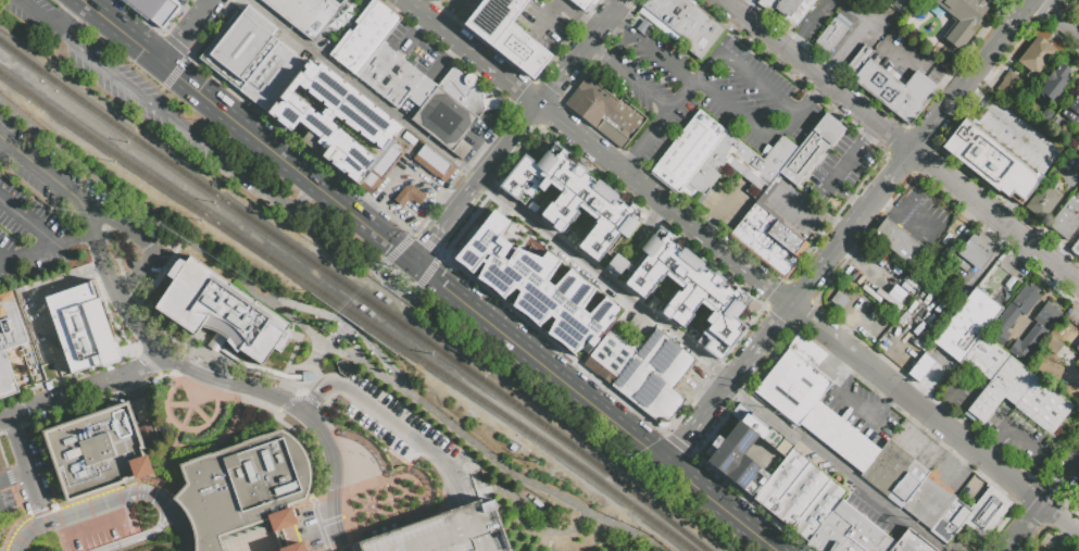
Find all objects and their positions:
building: (436, 0)
parking lot: (756, 0)
building: (1077, 0)
building: (768, 3)
building: (584, 4)
building: (902, 4)
road: (456, 5)
building: (660, 7)
road: (746, 8)
building: (782, 8)
parking lot: (462, 9)
building: (156, 10)
building: (796, 12)
road: (65, 14)
building: (306, 14)
road: (582, 14)
road: (1016, 14)
building: (680, 15)
road: (1057, 16)
road: (551, 17)
parking lot: (816, 18)
building: (961, 18)
road: (446, 20)
road: (819, 20)
parking lot: (551, 23)
building: (641, 25)
parking lot: (862, 28)
road: (187, 30)
building: (505, 33)
road: (597, 34)
building: (700, 34)
building: (364, 35)
building: (830, 36)
road: (855, 42)
building: (238, 46)
road: (620, 47)
road: (799, 48)
road: (651, 49)
road: (473, 53)
building: (1034, 57)
building: (861, 58)
parking lot: (909, 59)
road: (413, 62)
road: (912, 65)
road: (746, 74)
building: (271, 75)
road: (629, 76)
building: (396, 79)
road: (824, 83)
road: (949, 83)
building: (1008, 85)
building: (1052, 85)
road: (555, 87)
road: (958, 89)
road: (365, 90)
building: (466, 90)
parking lot: (700, 90)
building: (894, 90)
parking lot: (140, 96)
building: (595, 96)
road: (147, 101)
road: (969, 109)
building: (585, 110)
building: (1072, 110)
road: (804, 111)
road: (746, 117)
building: (444, 120)
building: (620, 123)
road: (657, 124)
building: (372, 125)
road: (247, 132)
parking lot: (1018, 137)
road: (900, 141)
building: (1078, 143)
road: (1016, 146)
building: (687, 151)
building: (812, 151)
building: (977, 151)
building: (741, 162)
building: (434, 163)
road: (495, 164)
road: (406, 168)
road: (843, 168)
road: (41, 171)
road: (893, 171)
parking lot: (60, 175)
building: (531, 175)
building: (1017, 180)
parking lot: (825, 189)
building: (1077, 195)
building: (411, 197)
road: (848, 197)
building: (1043, 199)
road: (729, 200)
road: (133, 201)
road: (870, 201)
road: (298, 202)
parking lot: (726, 202)
road: (664, 205)
building: (587, 208)
parking lot: (923, 216)
building: (1065, 220)
road: (28, 224)
road: (708, 226)
road: (839, 237)
road: (73, 239)
building: (769, 239)
road: (163, 241)
building: (898, 241)
road: (432, 242)
road: (142, 245)
building: (1076, 246)
building: (975, 252)
road: (28, 255)
road: (826, 256)
road: (372, 263)
traffic signals: (414, 264)
building: (615, 264)
parking lot: (158, 266)
road: (605, 280)
building: (536, 286)
road: (1046, 292)
railway: (355, 293)
building: (690, 293)
road: (421, 301)
road: (309, 309)
railway: (347, 310)
building: (221, 311)
building: (1013, 313)
building: (65, 323)
building: (966, 325)
road: (344, 326)
building: (1036, 331)
road: (825, 333)
building: (9, 339)
road: (327, 340)
building: (1054, 346)
building: (1078, 348)
road: (338, 350)
building: (986, 356)
road: (381, 358)
building: (608, 359)
road: (739, 366)
road: (836, 367)
building: (1049, 368)
road: (304, 371)
building: (655, 378)
road: (219, 383)
building: (1001, 389)
road: (80, 390)
building: (811, 401)
road: (949, 401)
road: (178, 403)
building: (1042, 406)
road: (139, 408)
road: (597, 408)
parking lot: (863, 408)
road: (200, 413)
road: (868, 416)
road: (387, 419)
road: (918, 421)
parking lot: (392, 422)
road: (206, 426)
road: (1003, 426)
road: (177, 436)
road: (1018, 438)
parking lot: (1019, 438)
road: (945, 442)
road: (679, 446)
parking lot: (919, 446)
road: (970, 448)
building: (743, 450)
building: (97, 451)
road: (992, 452)
road: (916, 453)
road: (964, 458)
road: (836, 465)
road: (29, 468)
building: (894, 474)
parking lot: (951, 474)
road: (15, 475)
road: (952, 475)
road: (530, 483)
building: (243, 487)
building: (791, 488)
road: (140, 493)
building: (1076, 498)
building: (928, 503)
road: (172, 505)
road: (1044, 505)
building: (818, 510)
parking lot: (874, 513)
road: (66, 516)
building: (973, 516)
road: (523, 519)
road: (97, 527)
building: (833, 528)
building: (442, 533)
parking lot: (442, 533)
road: (148, 537)
road: (187, 537)
building: (858, 537)
building: (911, 542)
building: (879, 543)
building: (294, 547)
building: (1046, 549)
building: (1042, 550)

